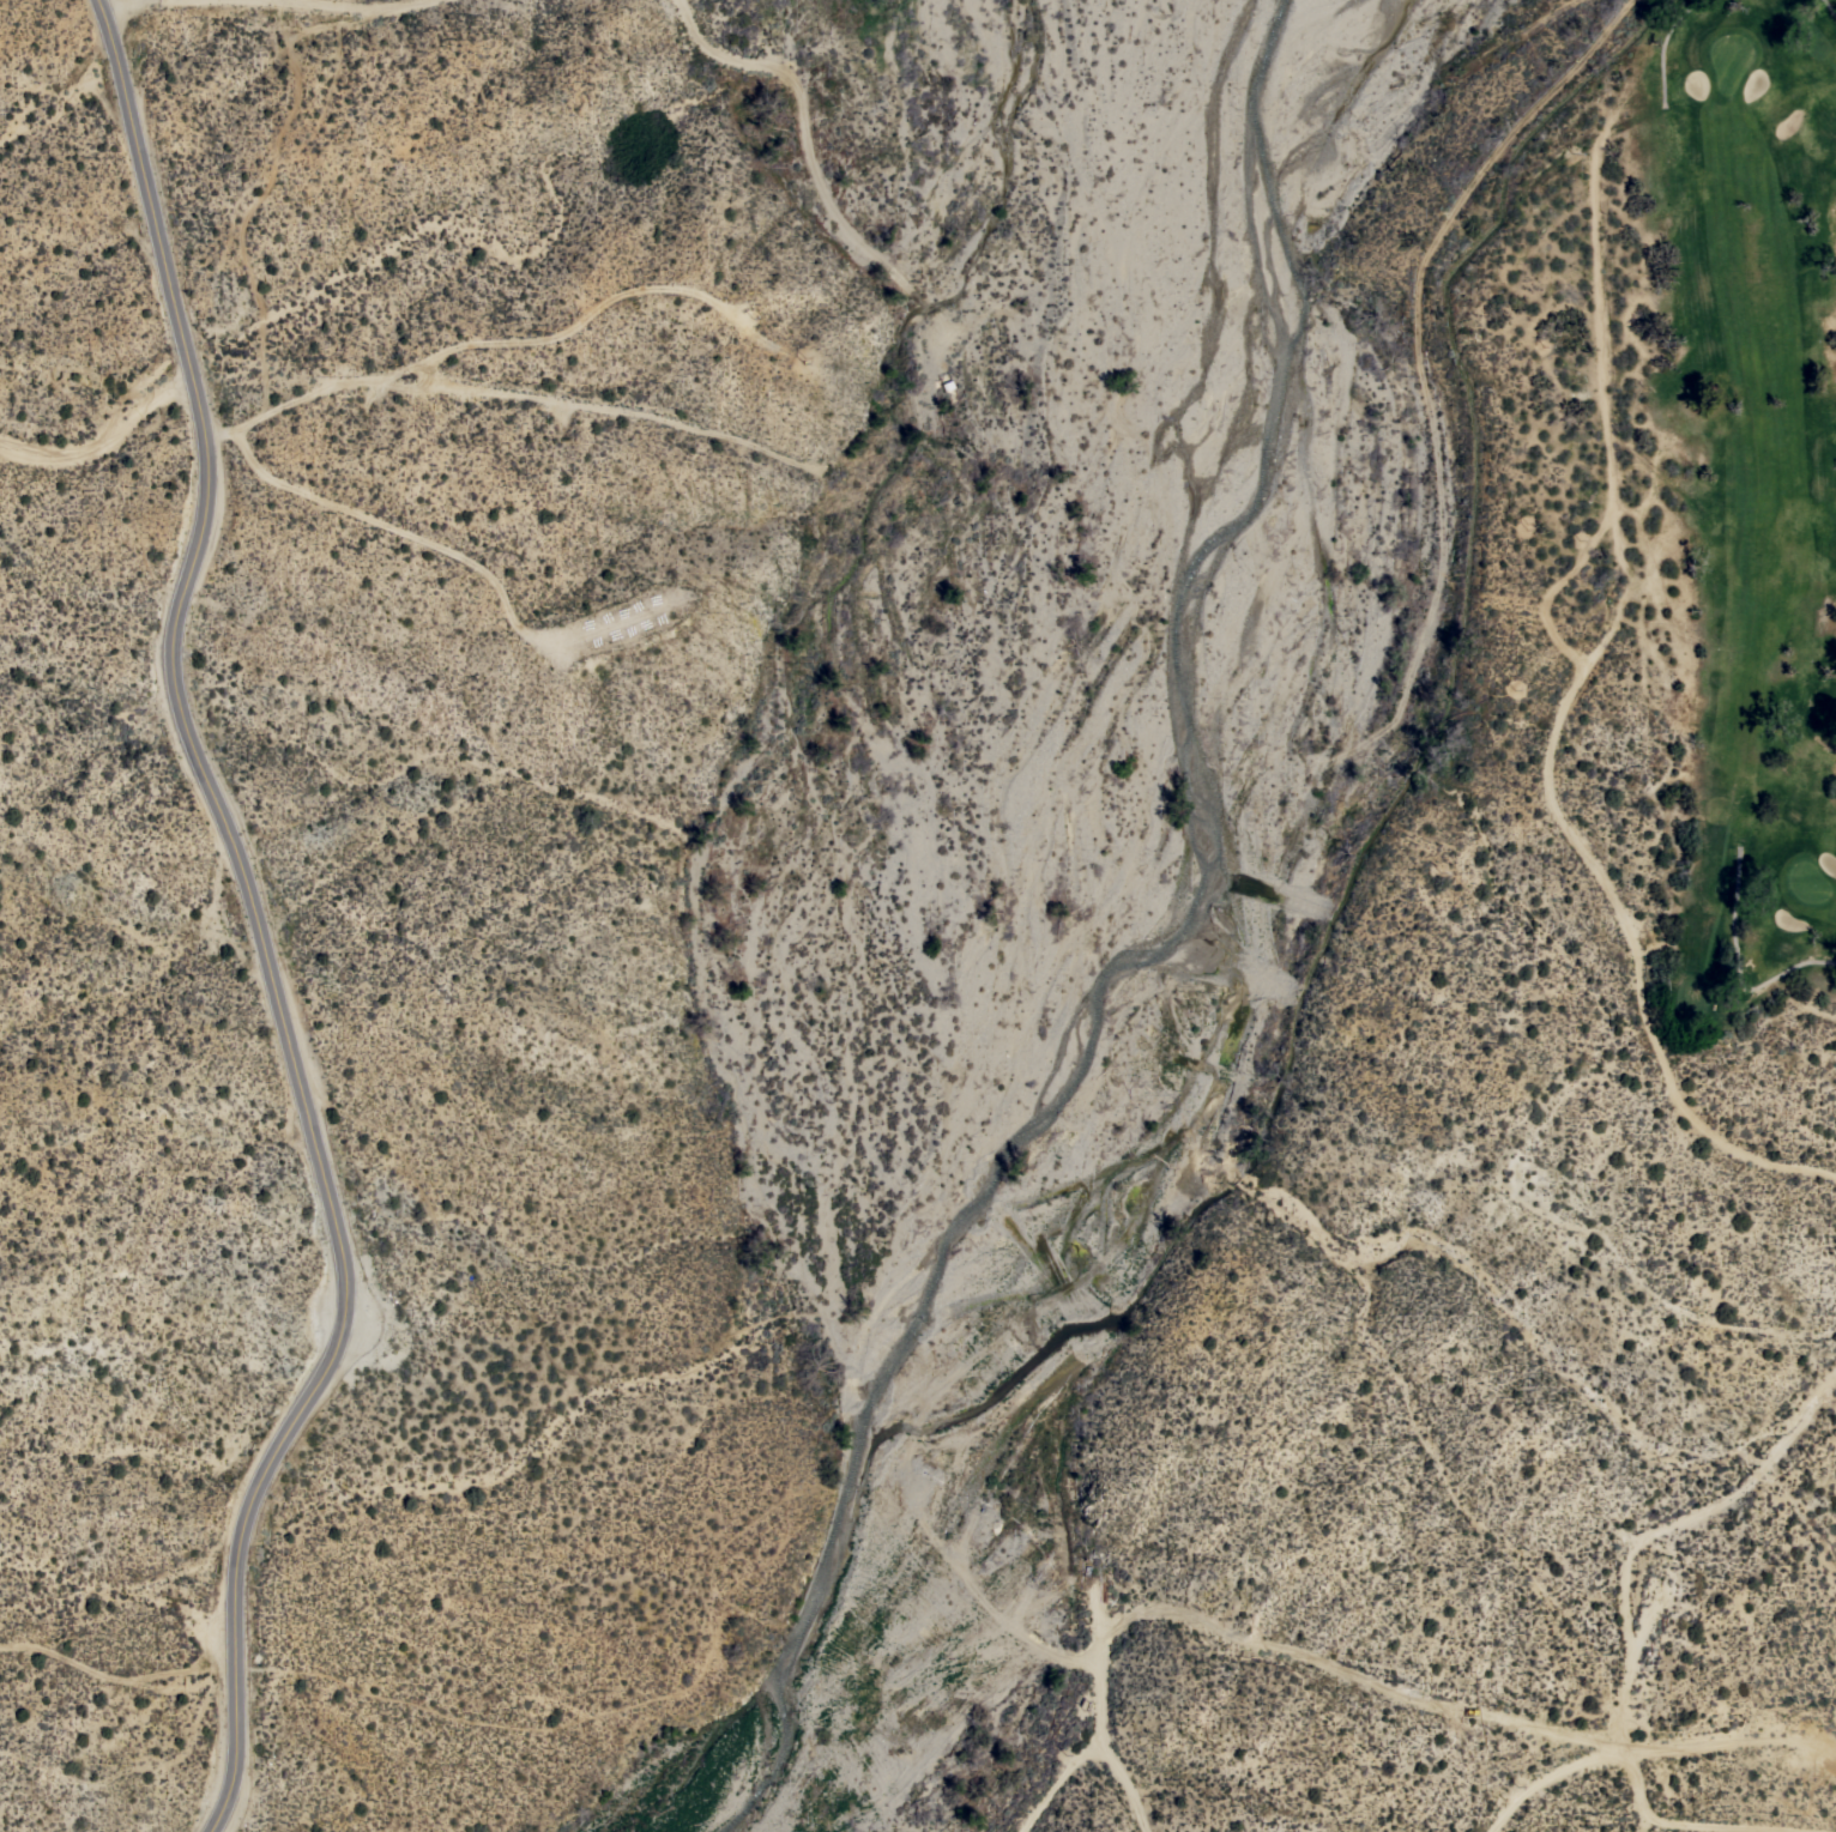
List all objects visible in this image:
road: (104, 440)
park: (1721, 605)
road: (261, 920)
road: (1357, 1673)
road: (1657, 1824)

